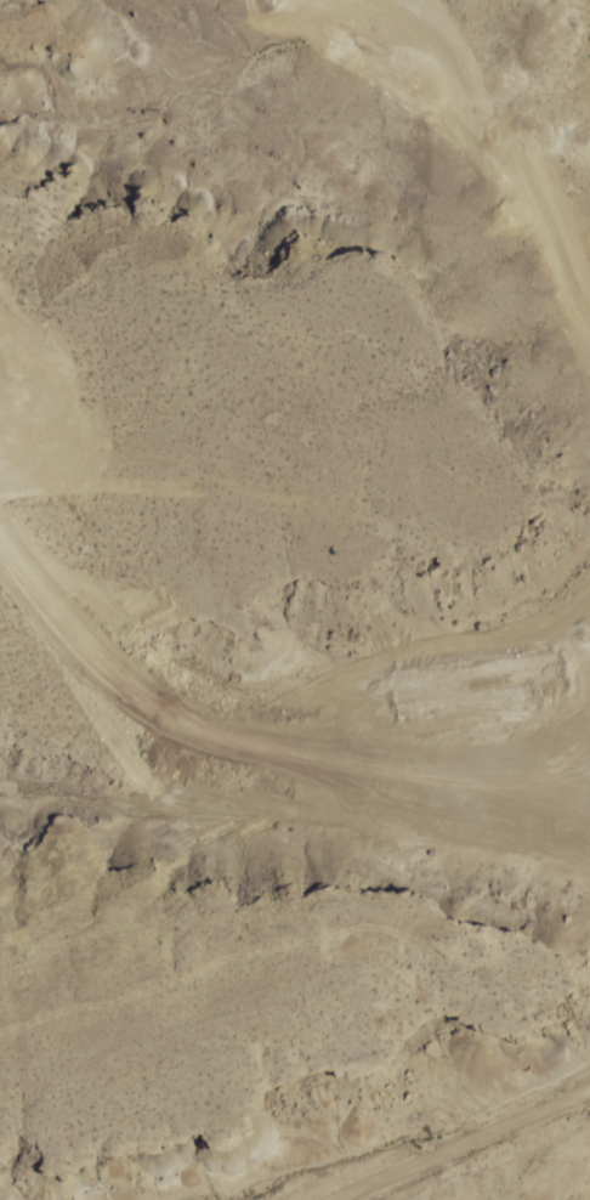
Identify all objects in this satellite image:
road: (470, 1142)

